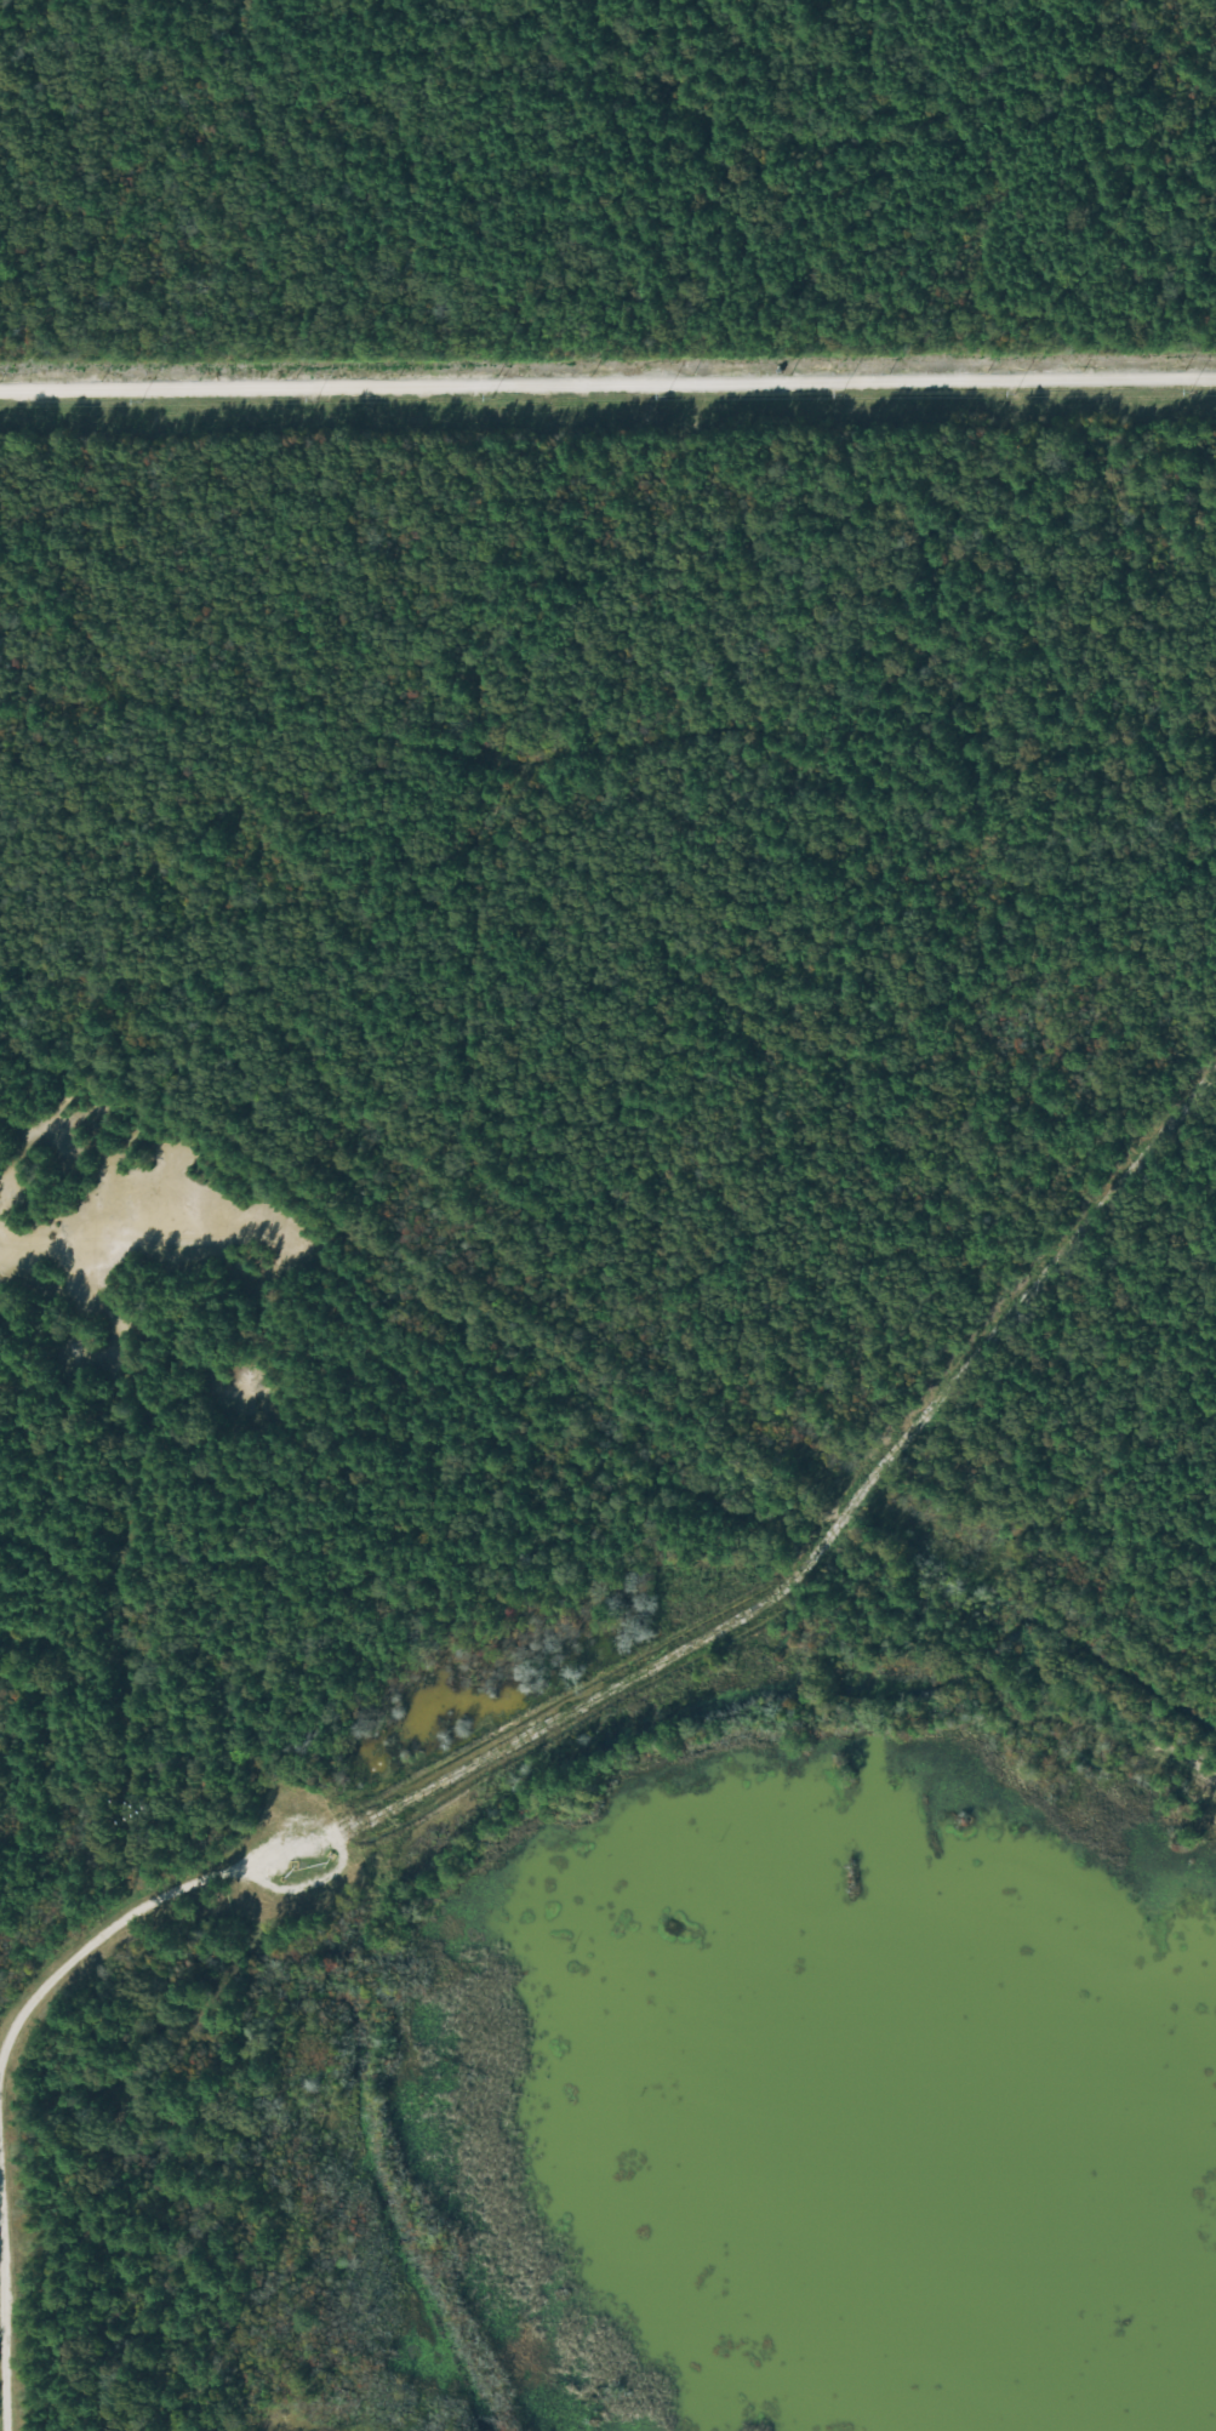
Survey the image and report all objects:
road: (2, 2059)
road: (6, 2304)

